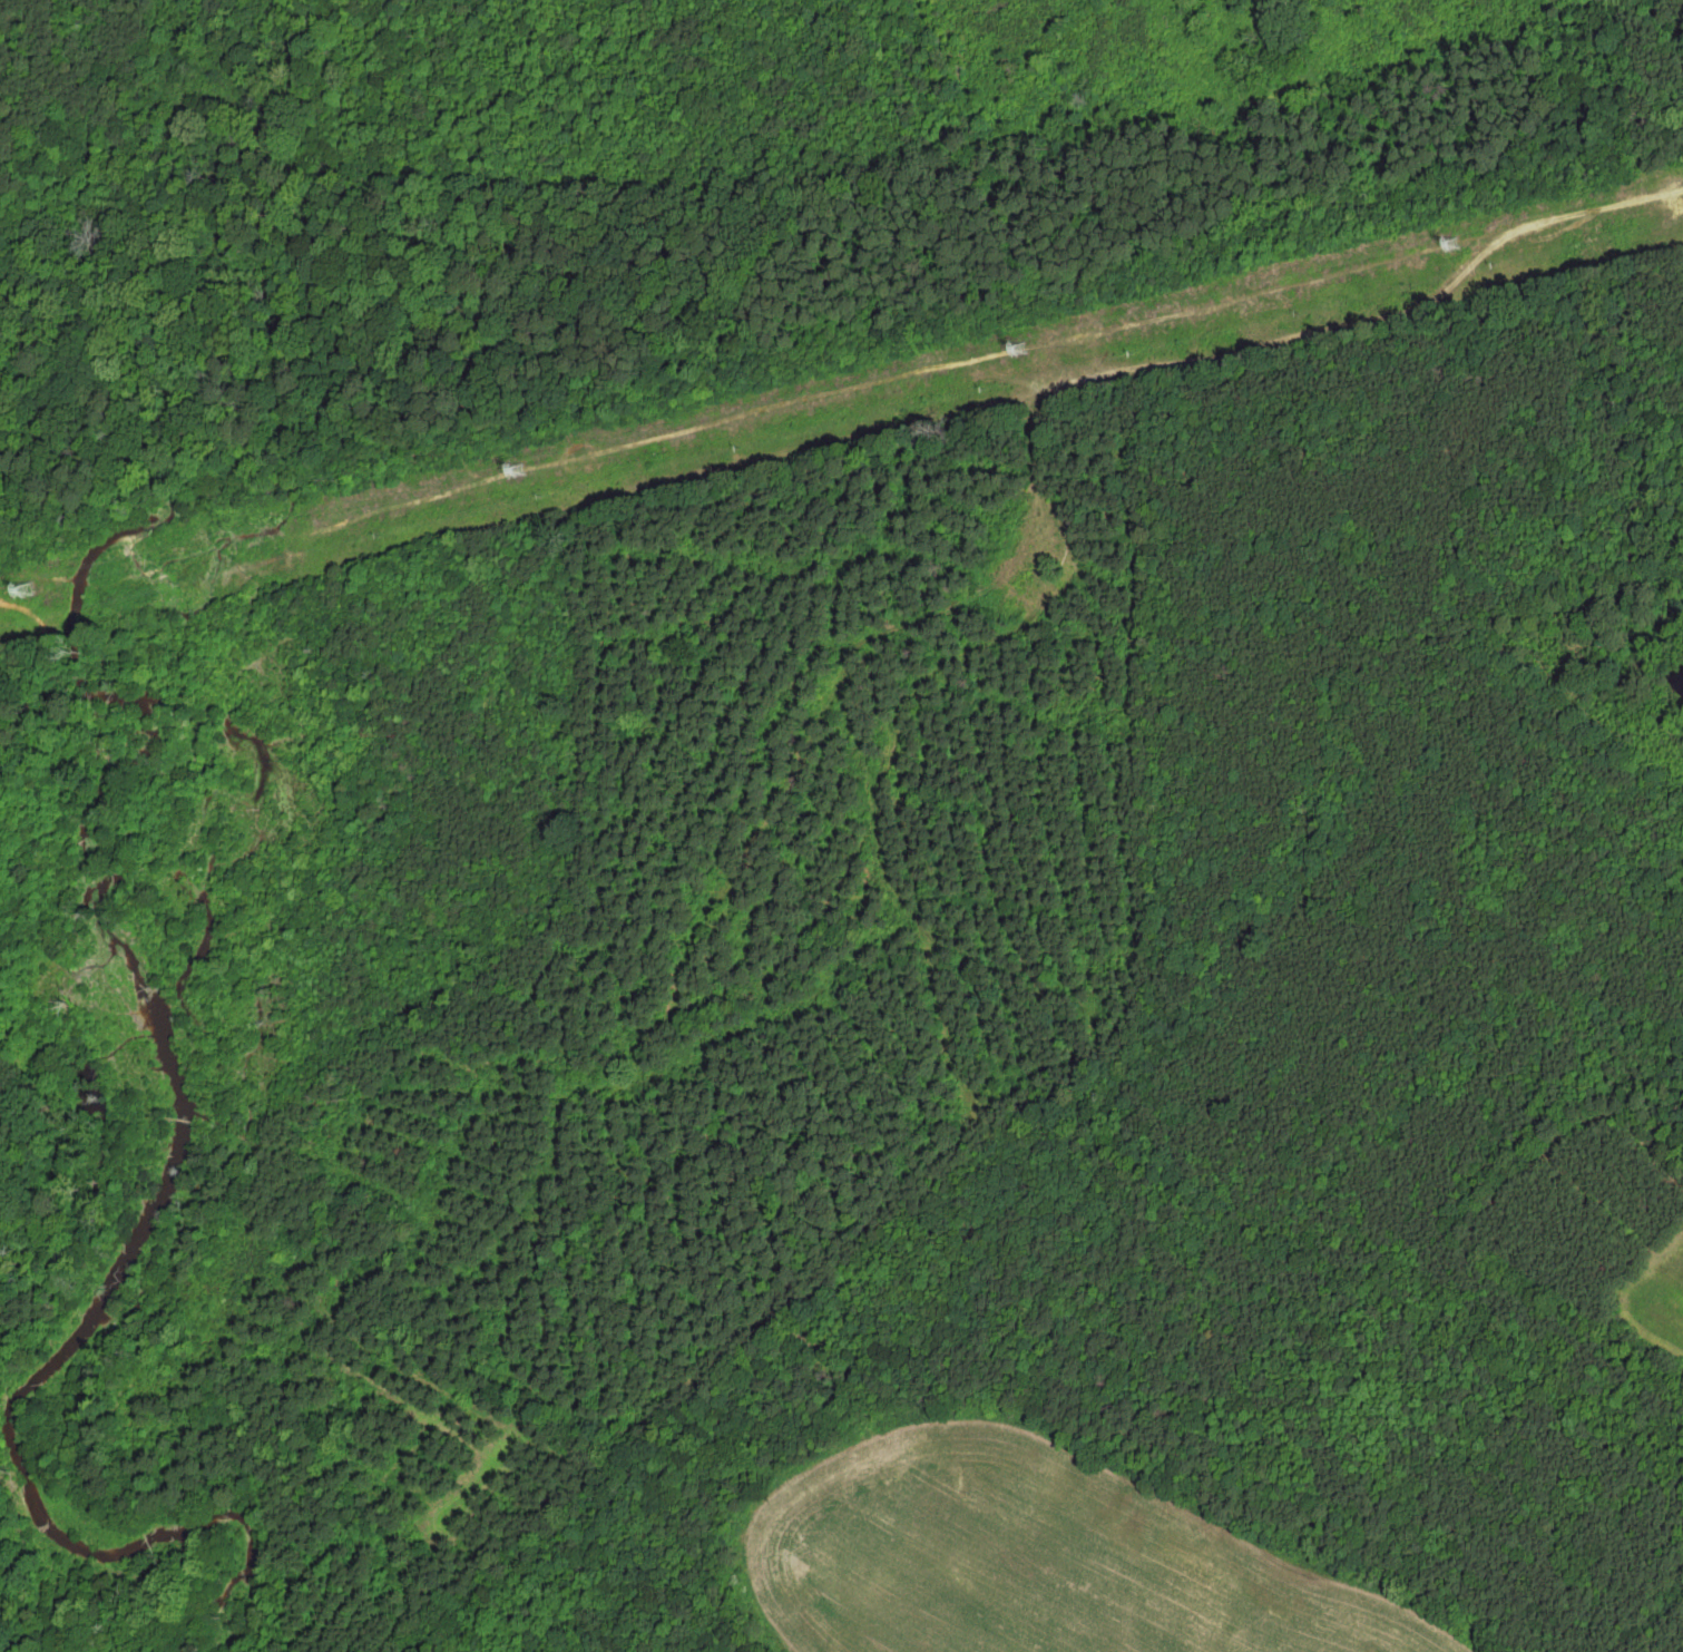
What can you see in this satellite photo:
power tower: (1455, 245)
power tower: (1024, 351)
power tower: (521, 471)
power tower: (39, 590)

